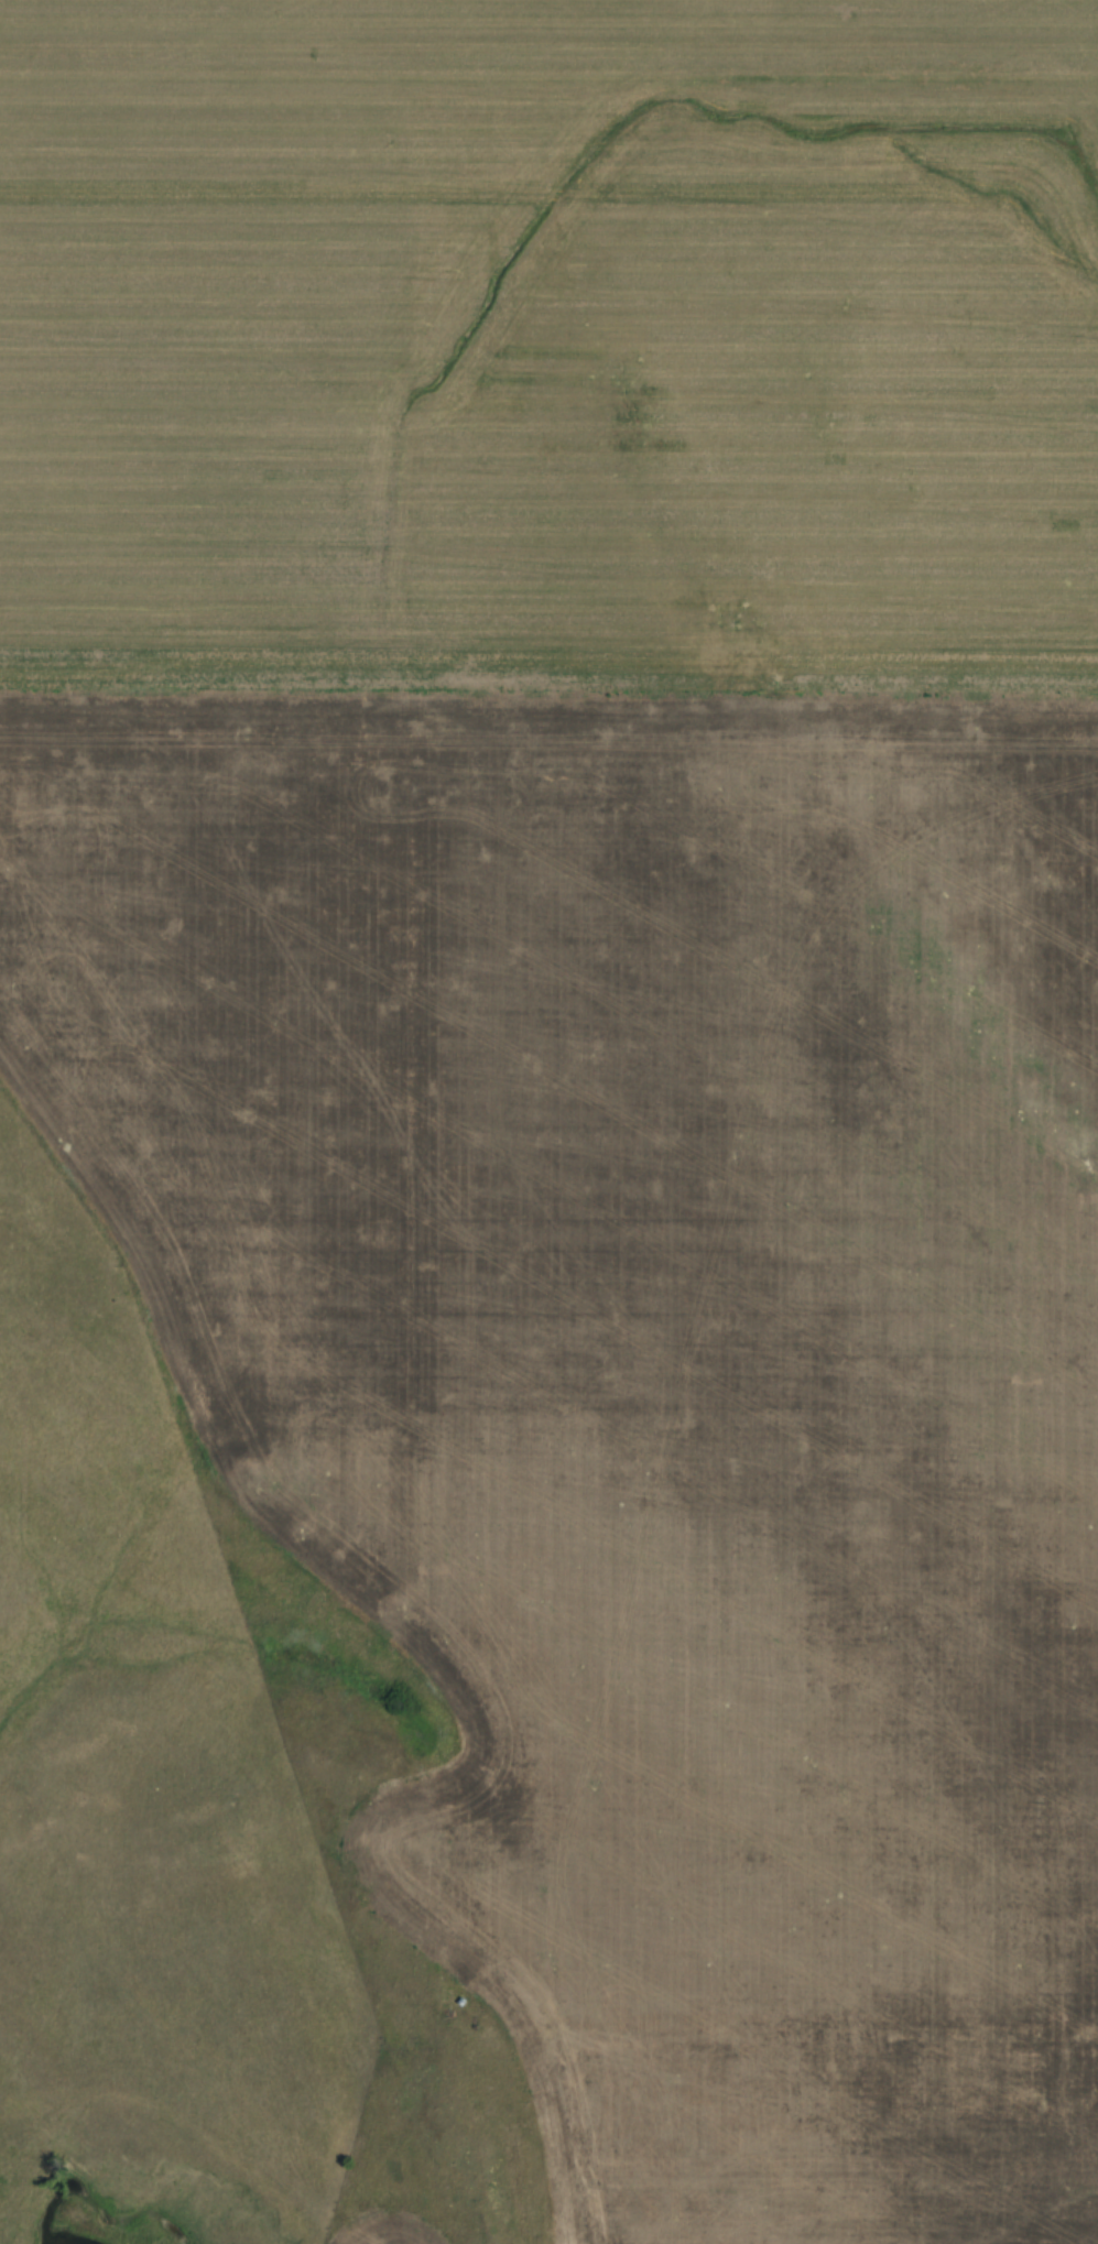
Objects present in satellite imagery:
road: (1072, 2222)

